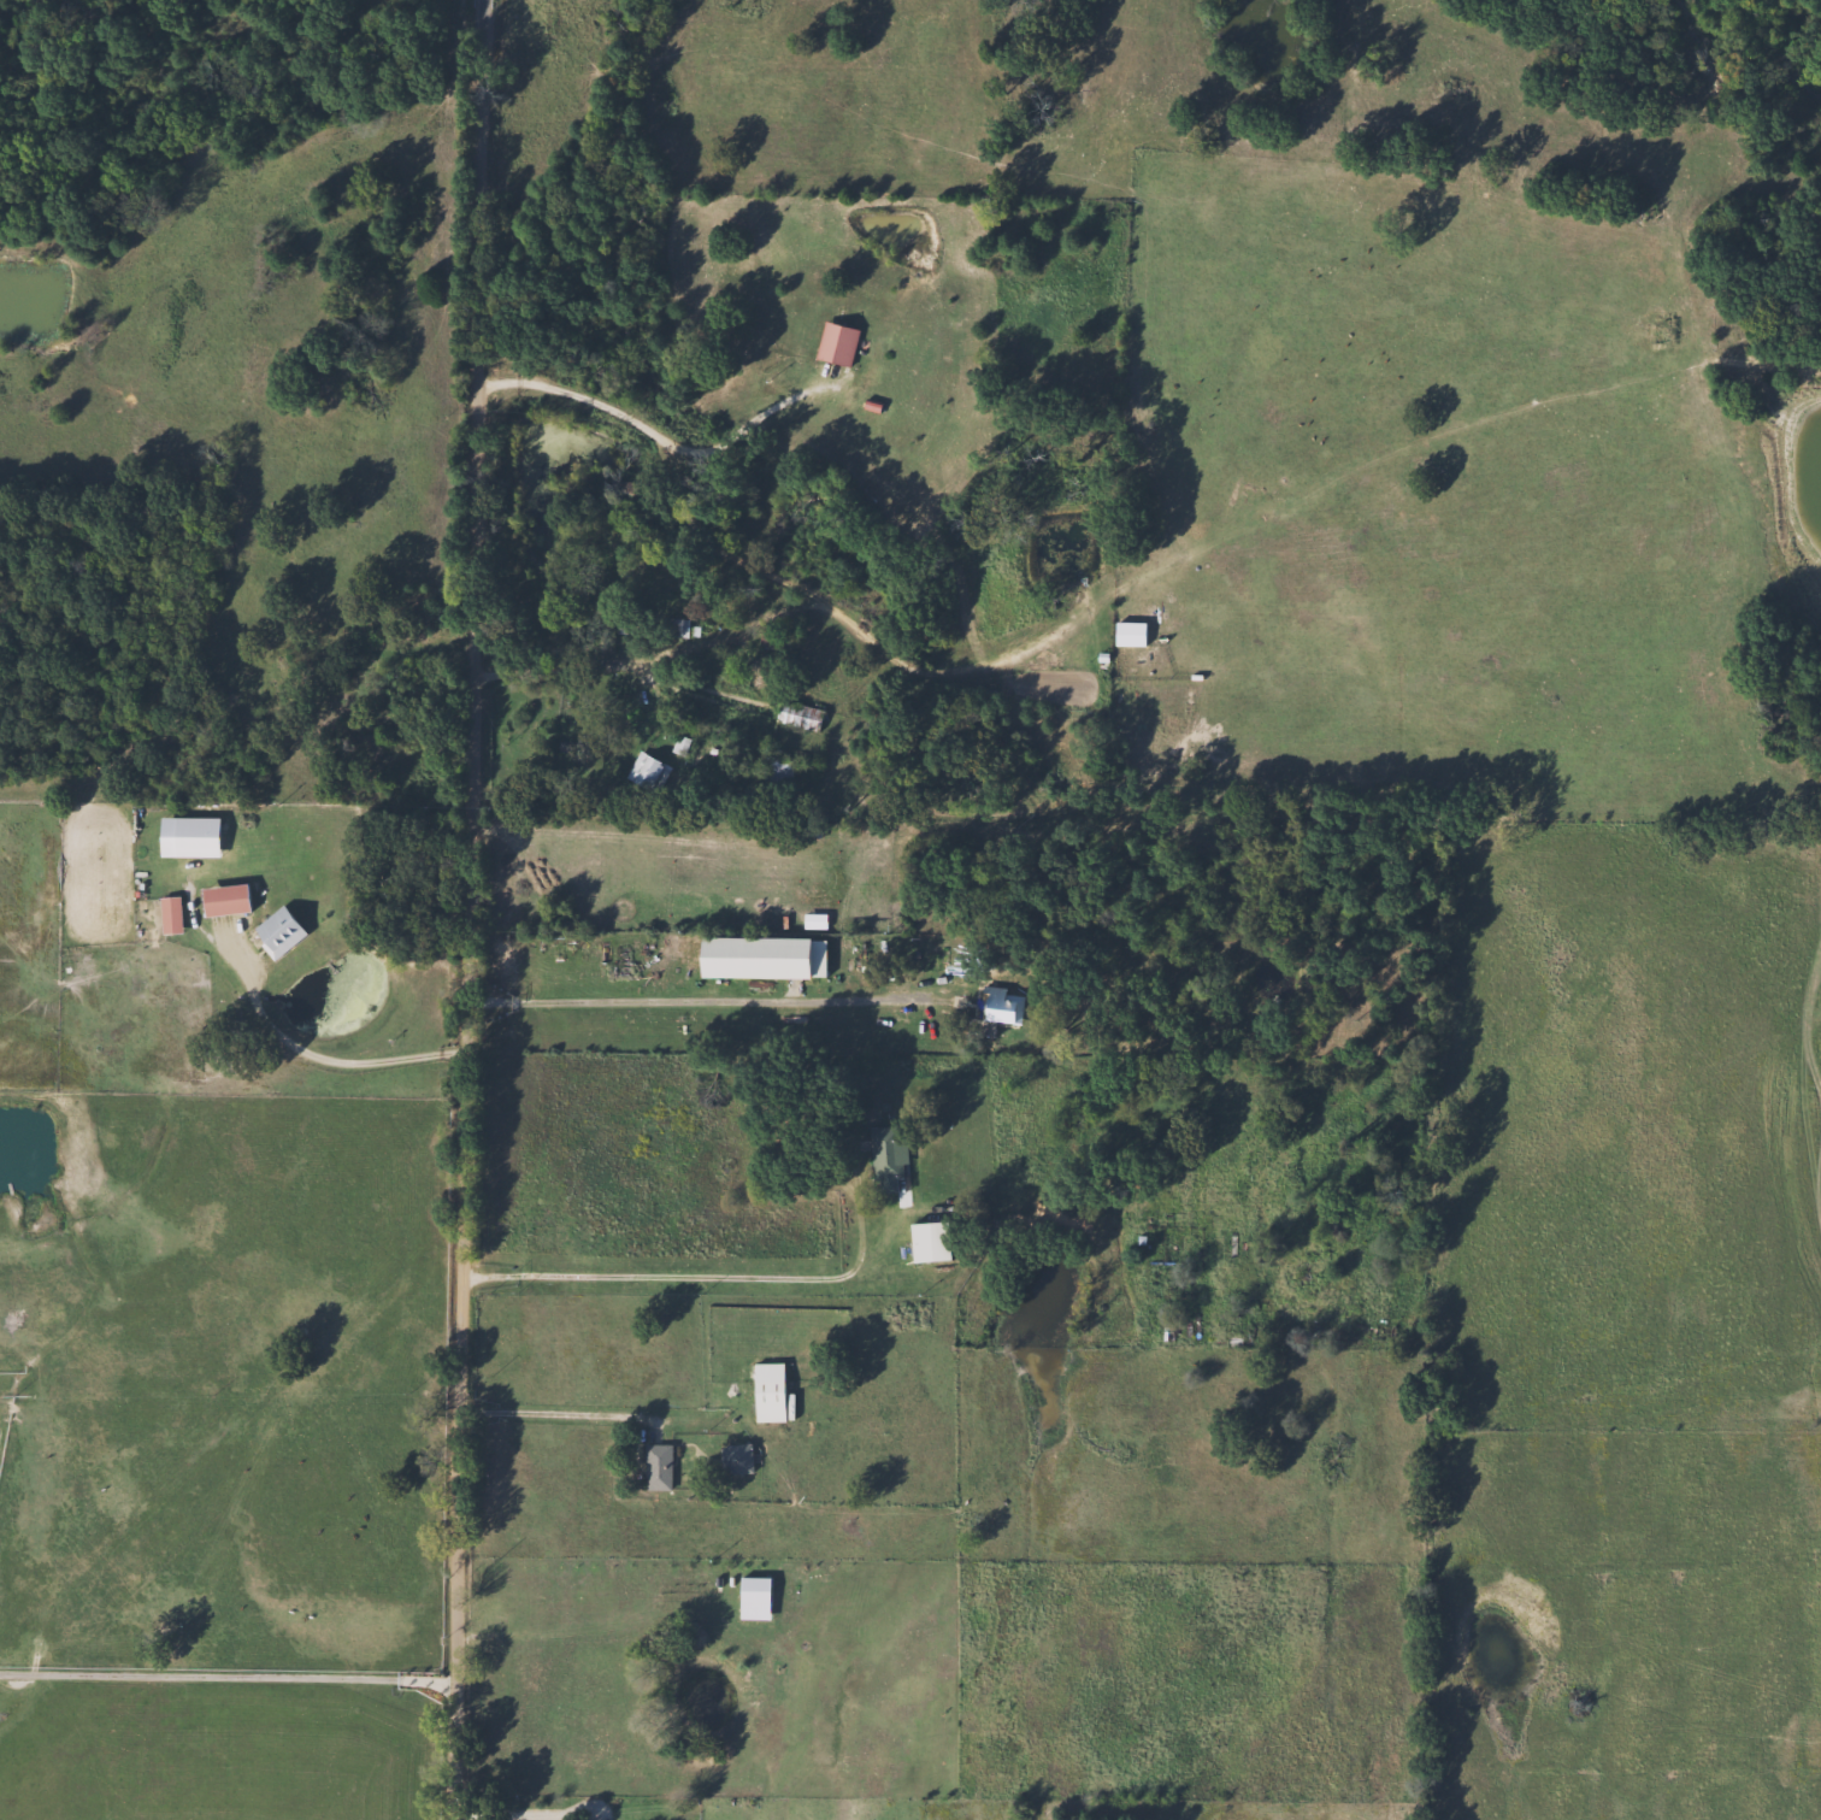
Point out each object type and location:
road: (648, 436)
building: (627, 623)
road: (686, 643)
building: (791, 714)
building: (773, 767)
building: (643, 772)
building: (219, 899)
road: (472, 909)
building: (165, 913)
building: (273, 931)
building: (756, 956)
road: (697, 1000)
building: (991, 1003)
road: (328, 1058)
building: (885, 1161)
road: (1798, 1218)
road: (689, 1278)
building: (765, 1392)
road: (556, 1414)
building: (733, 1457)
building: (652, 1472)
road: (229, 1667)
road: (528, 1810)

